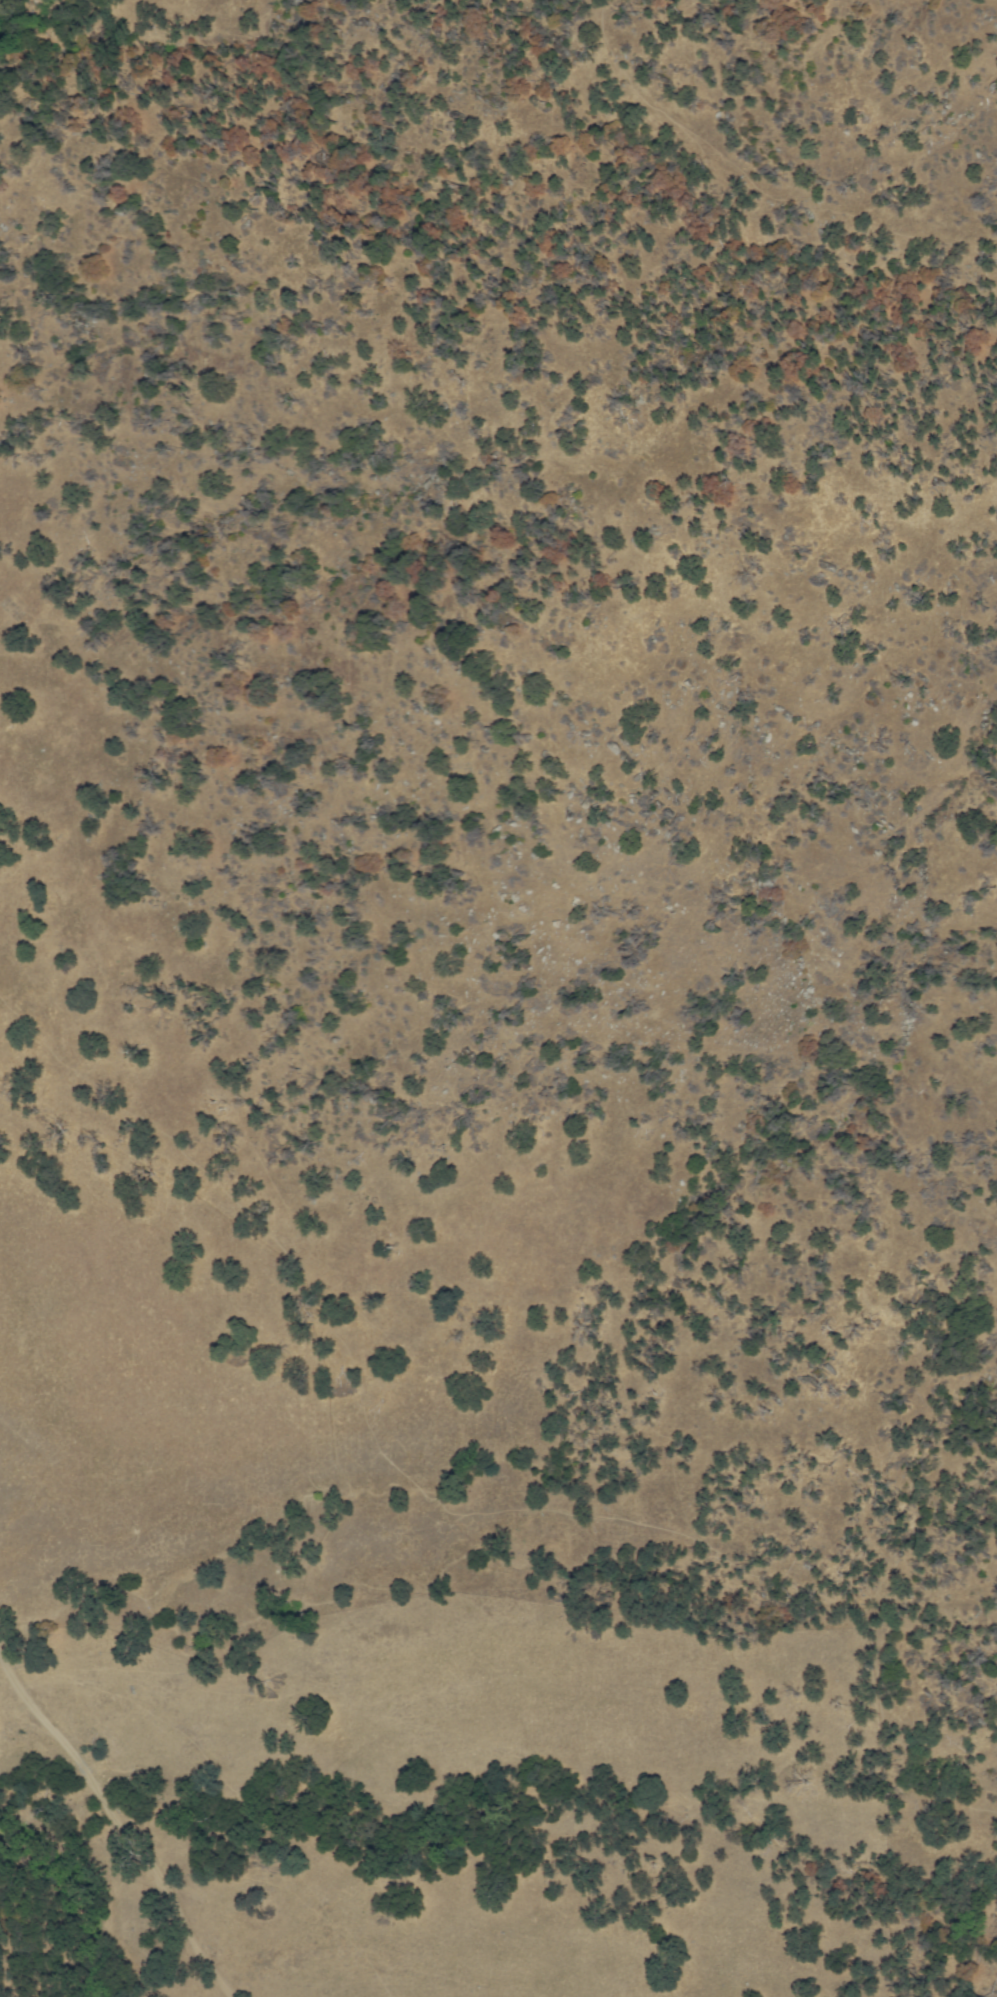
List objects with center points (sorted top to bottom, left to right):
road: (124, 1820)

